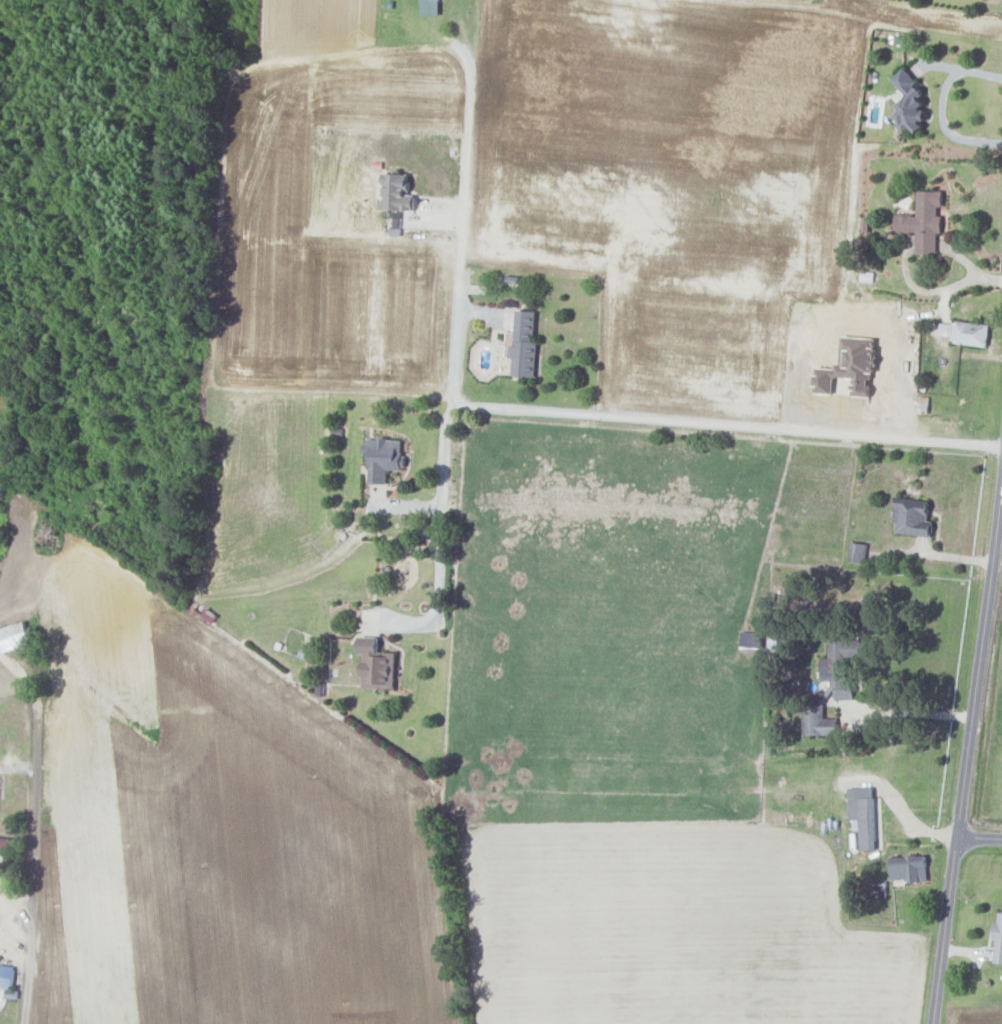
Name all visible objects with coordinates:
road: (962, 68)
building: (910, 103)
road: (943, 126)
building: (396, 193)
building: (924, 221)
road: (462, 228)
building: (966, 333)
building: (524, 345)
building: (851, 368)
road: (621, 417)
building: (383, 458)
building: (913, 517)
building: (858, 552)
building: (14, 637)
building: (376, 663)
building: (842, 664)
road: (913, 713)
building: (818, 721)
road: (969, 768)
building: (869, 824)
road: (981, 841)
road: (33, 866)
building: (910, 867)
building: (998, 938)
building: (6, 976)

